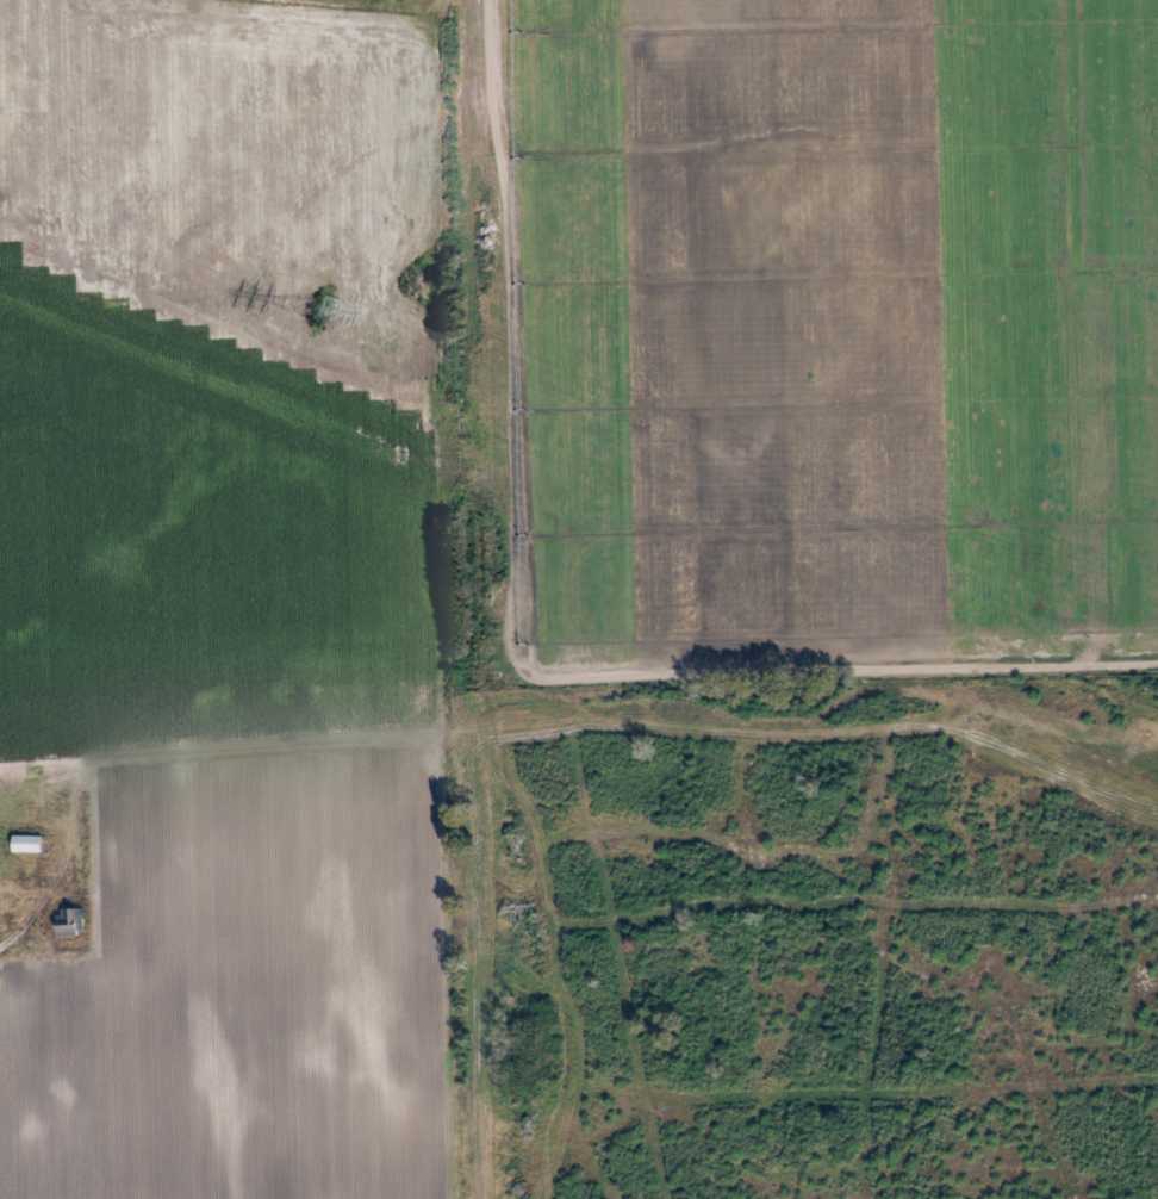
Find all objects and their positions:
power tower: (317, 306)
building: (27, 844)
road: (27, 903)
building: (71, 921)

